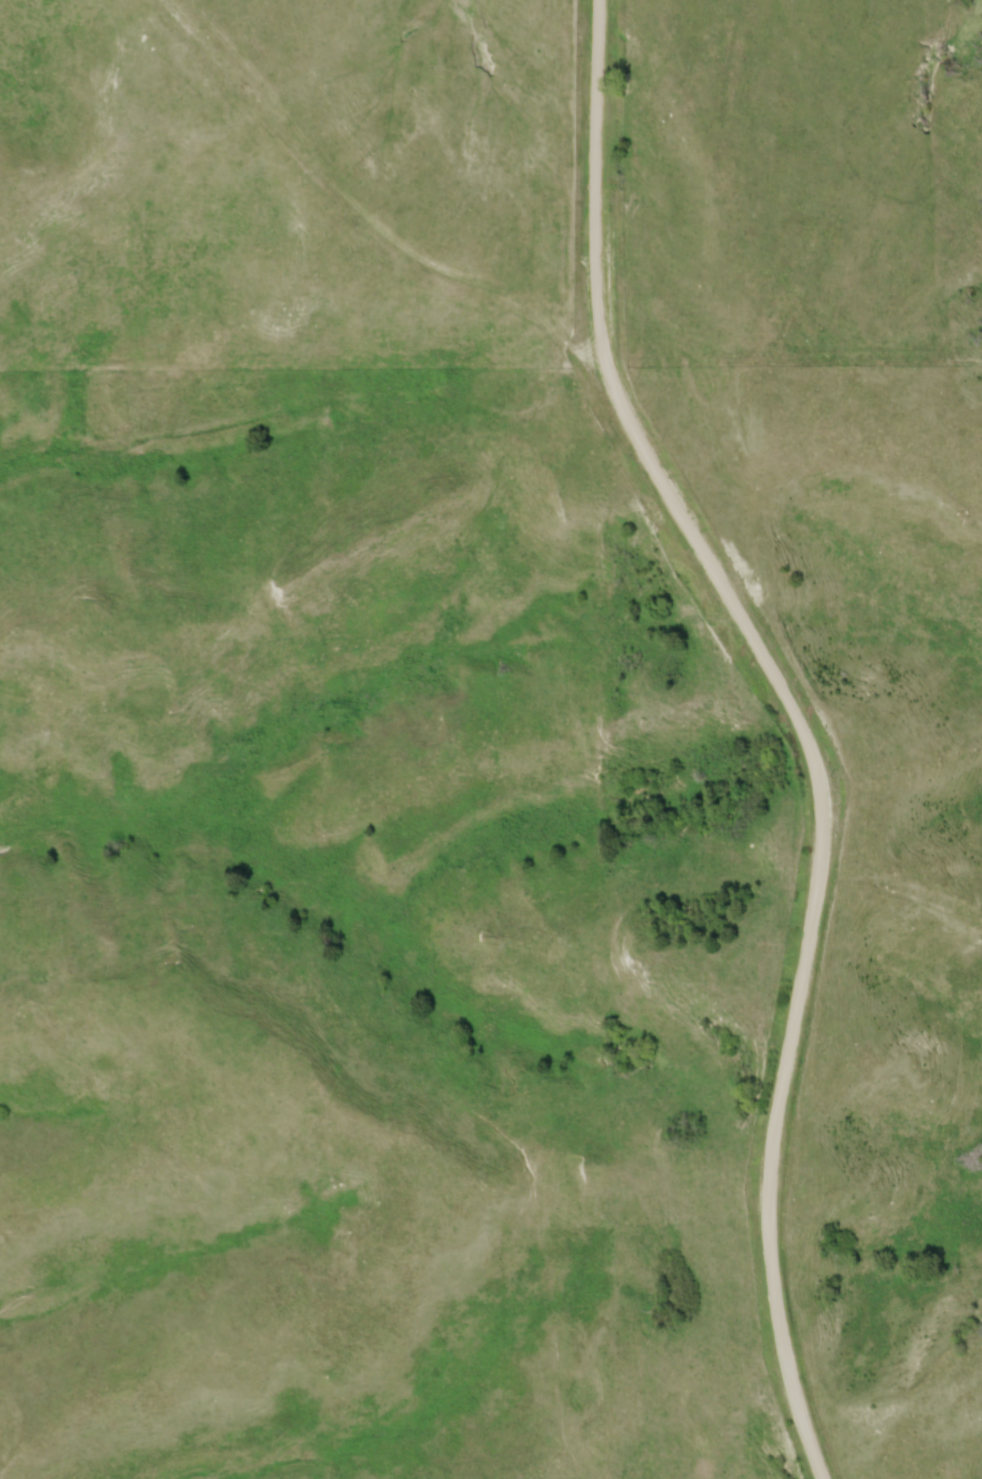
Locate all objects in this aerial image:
road: (797, 723)

